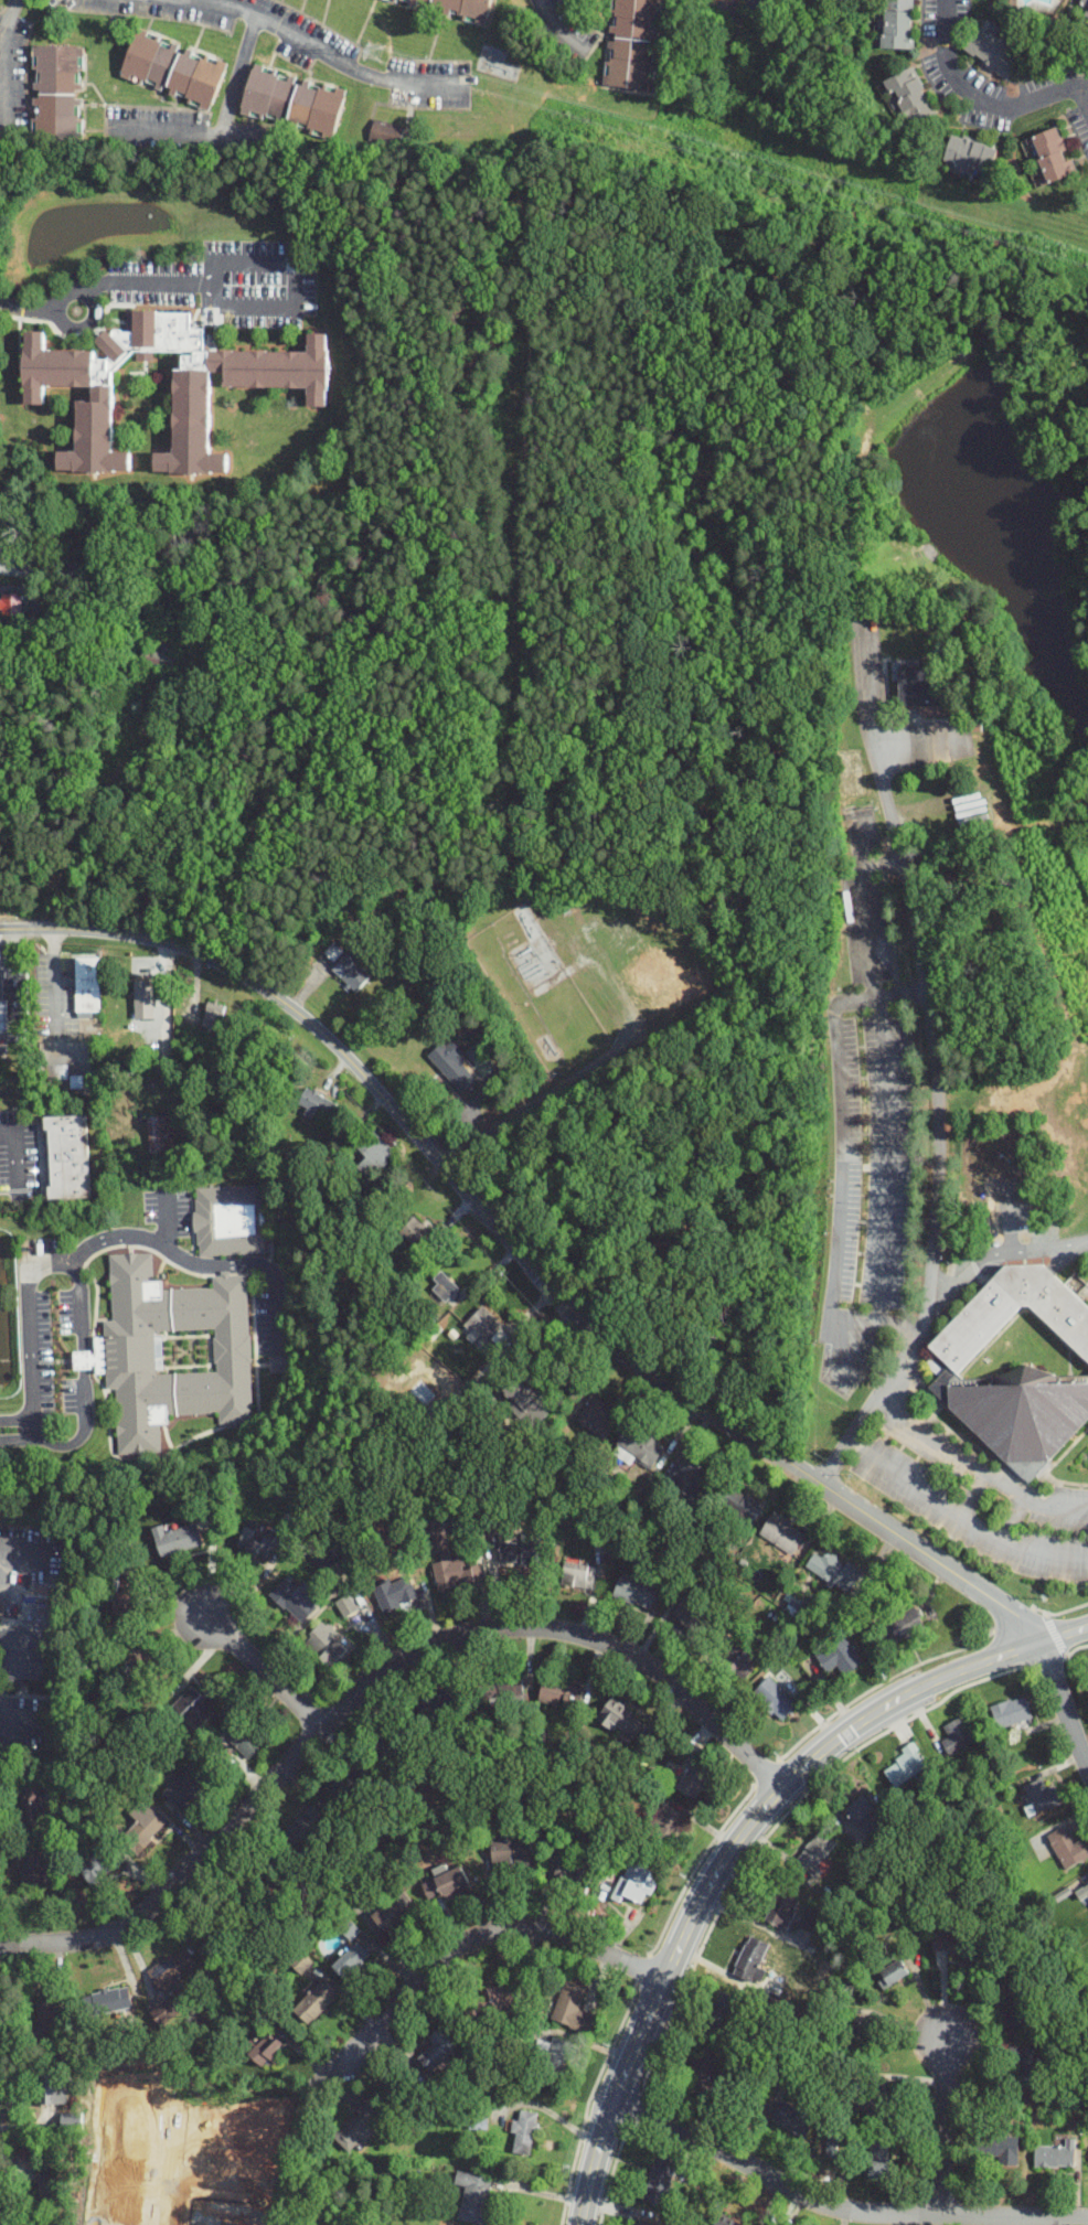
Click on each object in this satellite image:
building: (800, 0)
building: (1085, 7)
building: (459, 9)
road: (555, 23)
building: (896, 24)
building: (629, 44)
building: (993, 51)
power tower: (377, 54)
road: (331, 56)
road: (4, 64)
building: (171, 68)
road: (237, 74)
building: (908, 97)
road: (983, 97)
building: (56, 98)
road: (1081, 98)
building: (291, 100)
road: (184, 130)
building: (384, 130)
building: (1052, 154)
building: (969, 158)
road: (295, 282)
road: (99, 284)
building: (299, 392)
building: (9, 603)
building: (164, 653)
building: (917, 687)
road: (865, 914)
road: (918, 958)
building: (351, 971)
road: (53, 980)
building: (86, 984)
building: (13, 999)
building: (143, 1001)
building: (213, 1016)
building: (450, 1068)
building: (53, 1071)
building: (316, 1103)
building: (159, 1135)
building: (374, 1154)
road: (14, 1155)
road: (840, 1156)
road: (888, 1157)
building: (70, 1158)
road: (167, 1221)
building: (228, 1221)
building: (416, 1235)
road: (95, 1240)
road: (1023, 1249)
building: (444, 1287)
road: (567, 1306)
building: (482, 1324)
building: (173, 1351)
road: (902, 1352)
building: (279, 1365)
building: (1015, 1365)
road: (82, 1366)
building: (525, 1401)
building: (597, 1418)
road: (26, 1427)
road: (38, 1434)
building: (638, 1446)
road: (974, 1468)
building: (689, 1480)
road: (971, 1495)
building: (738, 1502)
road: (940, 1502)
road: (1012, 1519)
building: (781, 1533)
building: (178, 1539)
building: (255, 1539)
building: (520, 1553)
building: (323, 1557)
road: (22, 1560)
building: (447, 1560)
building: (832, 1571)
building: (578, 1575)
building: (634, 1591)
building: (395, 1594)
building: (124, 1596)
building: (294, 1598)
building: (343, 1604)
building: (692, 1615)
building: (902, 1625)
building: (30, 1640)
building: (326, 1646)
building: (736, 1659)
building: (839, 1659)
building: (140, 1664)
road: (268, 1672)
road: (371, 1689)
building: (506, 1691)
building: (559, 1694)
building: (774, 1699)
building: (438, 1704)
building: (193, 1709)
building: (1010, 1713)
building: (619, 1719)
road: (24, 1723)
building: (239, 1736)
building: (957, 1736)
building: (384, 1741)
building: (905, 1765)
building: (692, 1778)
building: (183, 1786)
building: (350, 1787)
building: (331, 1790)
building: (1038, 1797)
building: (32, 1807)
building: (863, 1815)
building: (663, 1827)
building: (303, 1829)
building: (142, 1830)
road: (738, 1839)
building: (1066, 1848)
building: (510, 1851)
building: (815, 1852)
building: (267, 1864)
building: (29, 1866)
building: (96, 1866)
building: (574, 1878)
building: (634, 1884)
building: (446, 1885)
building: (1086, 1891)
building: (781, 1902)
building: (393, 1913)
building: (228, 1916)
building: (803, 1917)
building: (344, 1927)
road: (486, 1930)
building: (958, 1945)
building: (750, 1959)
building: (352, 1962)
building: (172, 1970)
building: (890, 1975)
building: (490, 2001)
building: (106, 2002)
building: (314, 2002)
building: (572, 2008)
building: (1013, 2011)
building: (722, 2012)
building: (122, 2018)
building: (45, 2021)
building: (858, 2034)
building: (265, 2046)
building: (437, 2049)
building: (555, 2060)
building: (1020, 2064)
building: (700, 2075)
building: (50, 2089)
building: (877, 2100)
building: (794, 2118)
building: (359, 2125)
road: (945, 2128)
building: (524, 2133)
building: (996, 2148)
building: (1054, 2156)
building: (817, 2158)
building: (877, 2158)
road: (168, 2164)
building: (659, 2180)
building: (53, 2185)
building: (473, 2196)
road: (839, 2206)
building: (723, 2222)
building: (641, 2224)

